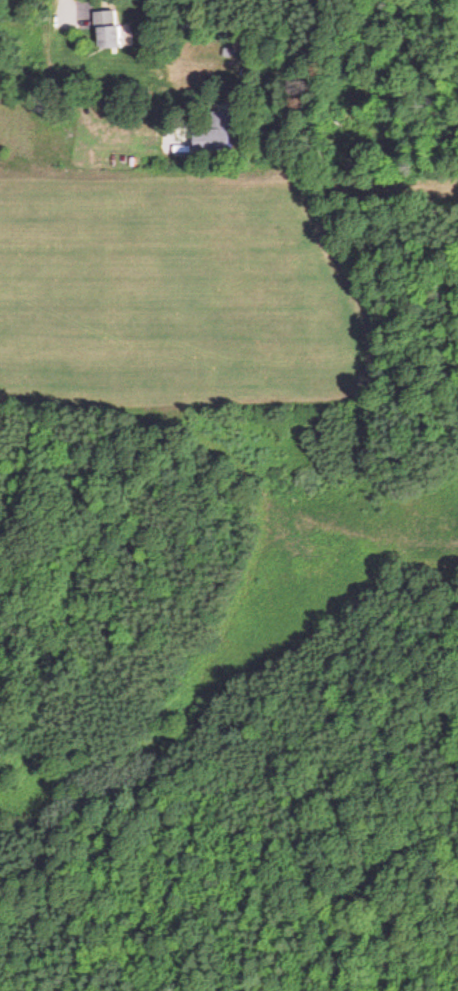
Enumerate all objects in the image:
building: (103, 29)
building: (211, 136)

